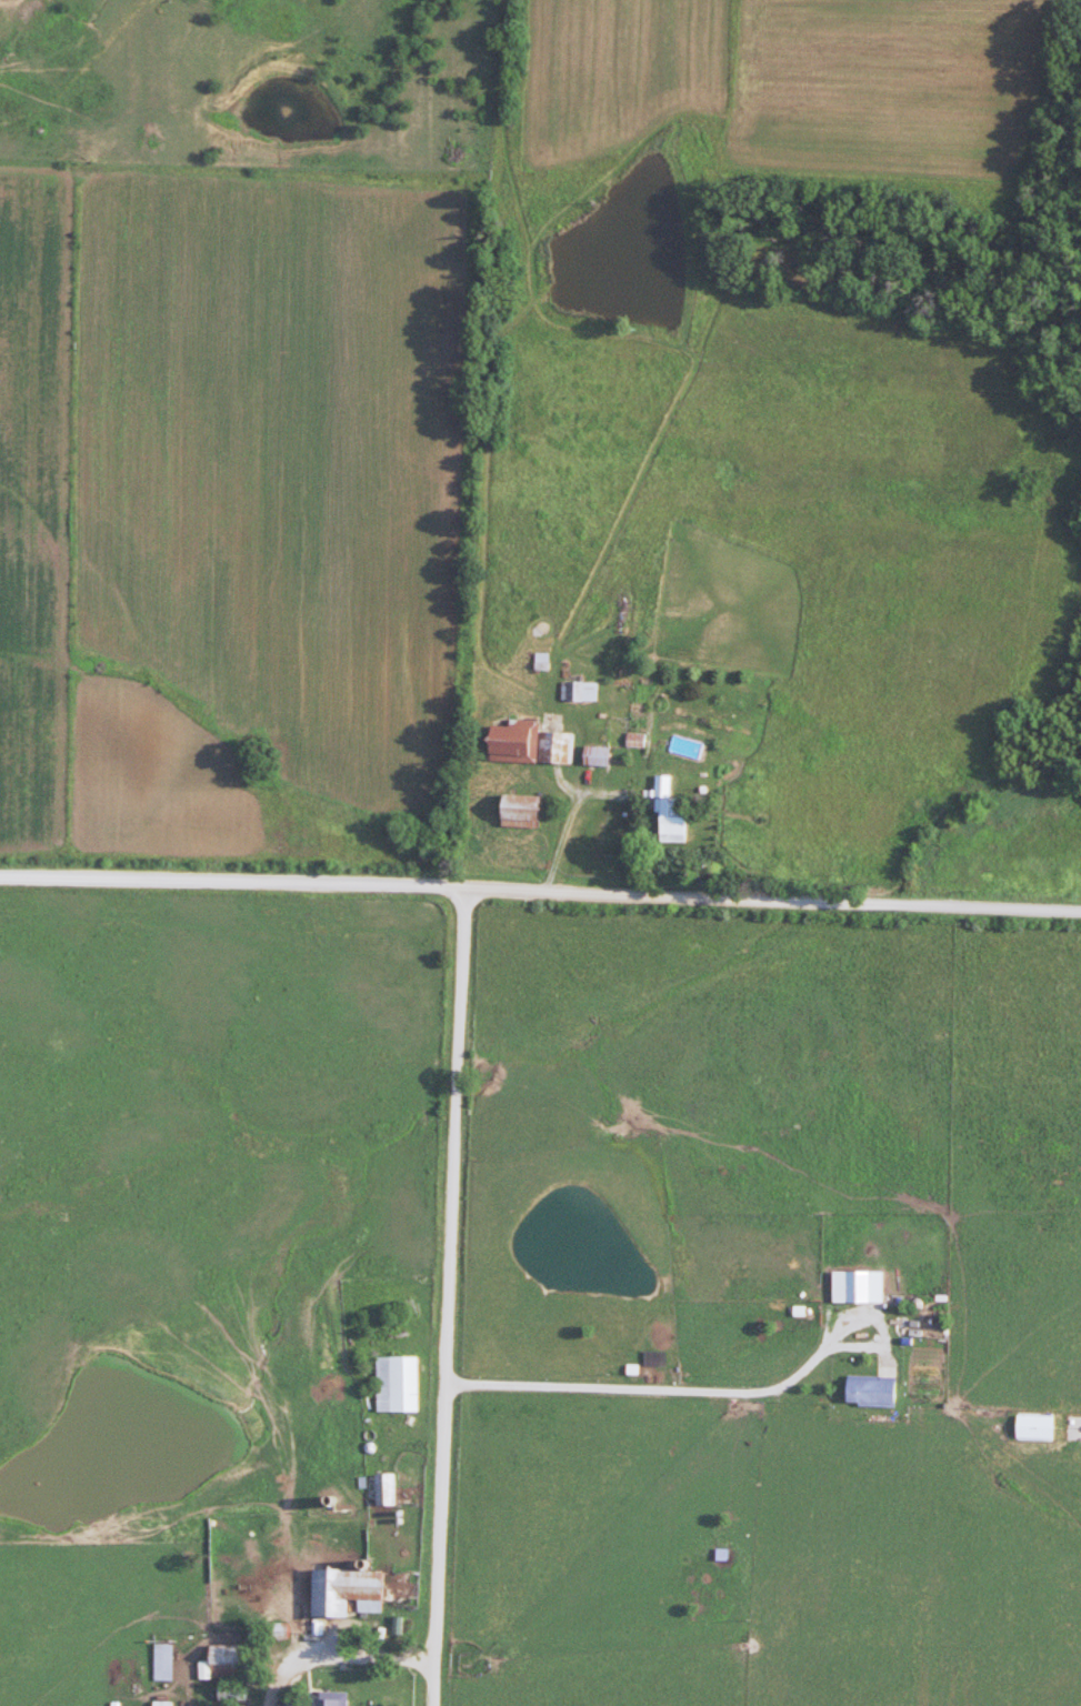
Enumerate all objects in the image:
road: (494, 435)
building: (580, 691)
building: (526, 743)
building: (598, 755)
building: (517, 811)
building: (667, 811)
road: (573, 821)
road: (540, 892)
building: (859, 1286)
road: (450, 1297)
building: (399, 1384)
building: (871, 1391)
road: (668, 1392)
building: (386, 1489)
building: (344, 1592)
building: (222, 1658)
road: (339, 1659)
building: (164, 1662)
building: (233, 1693)
building: (332, 1703)
building: (163, 1704)

